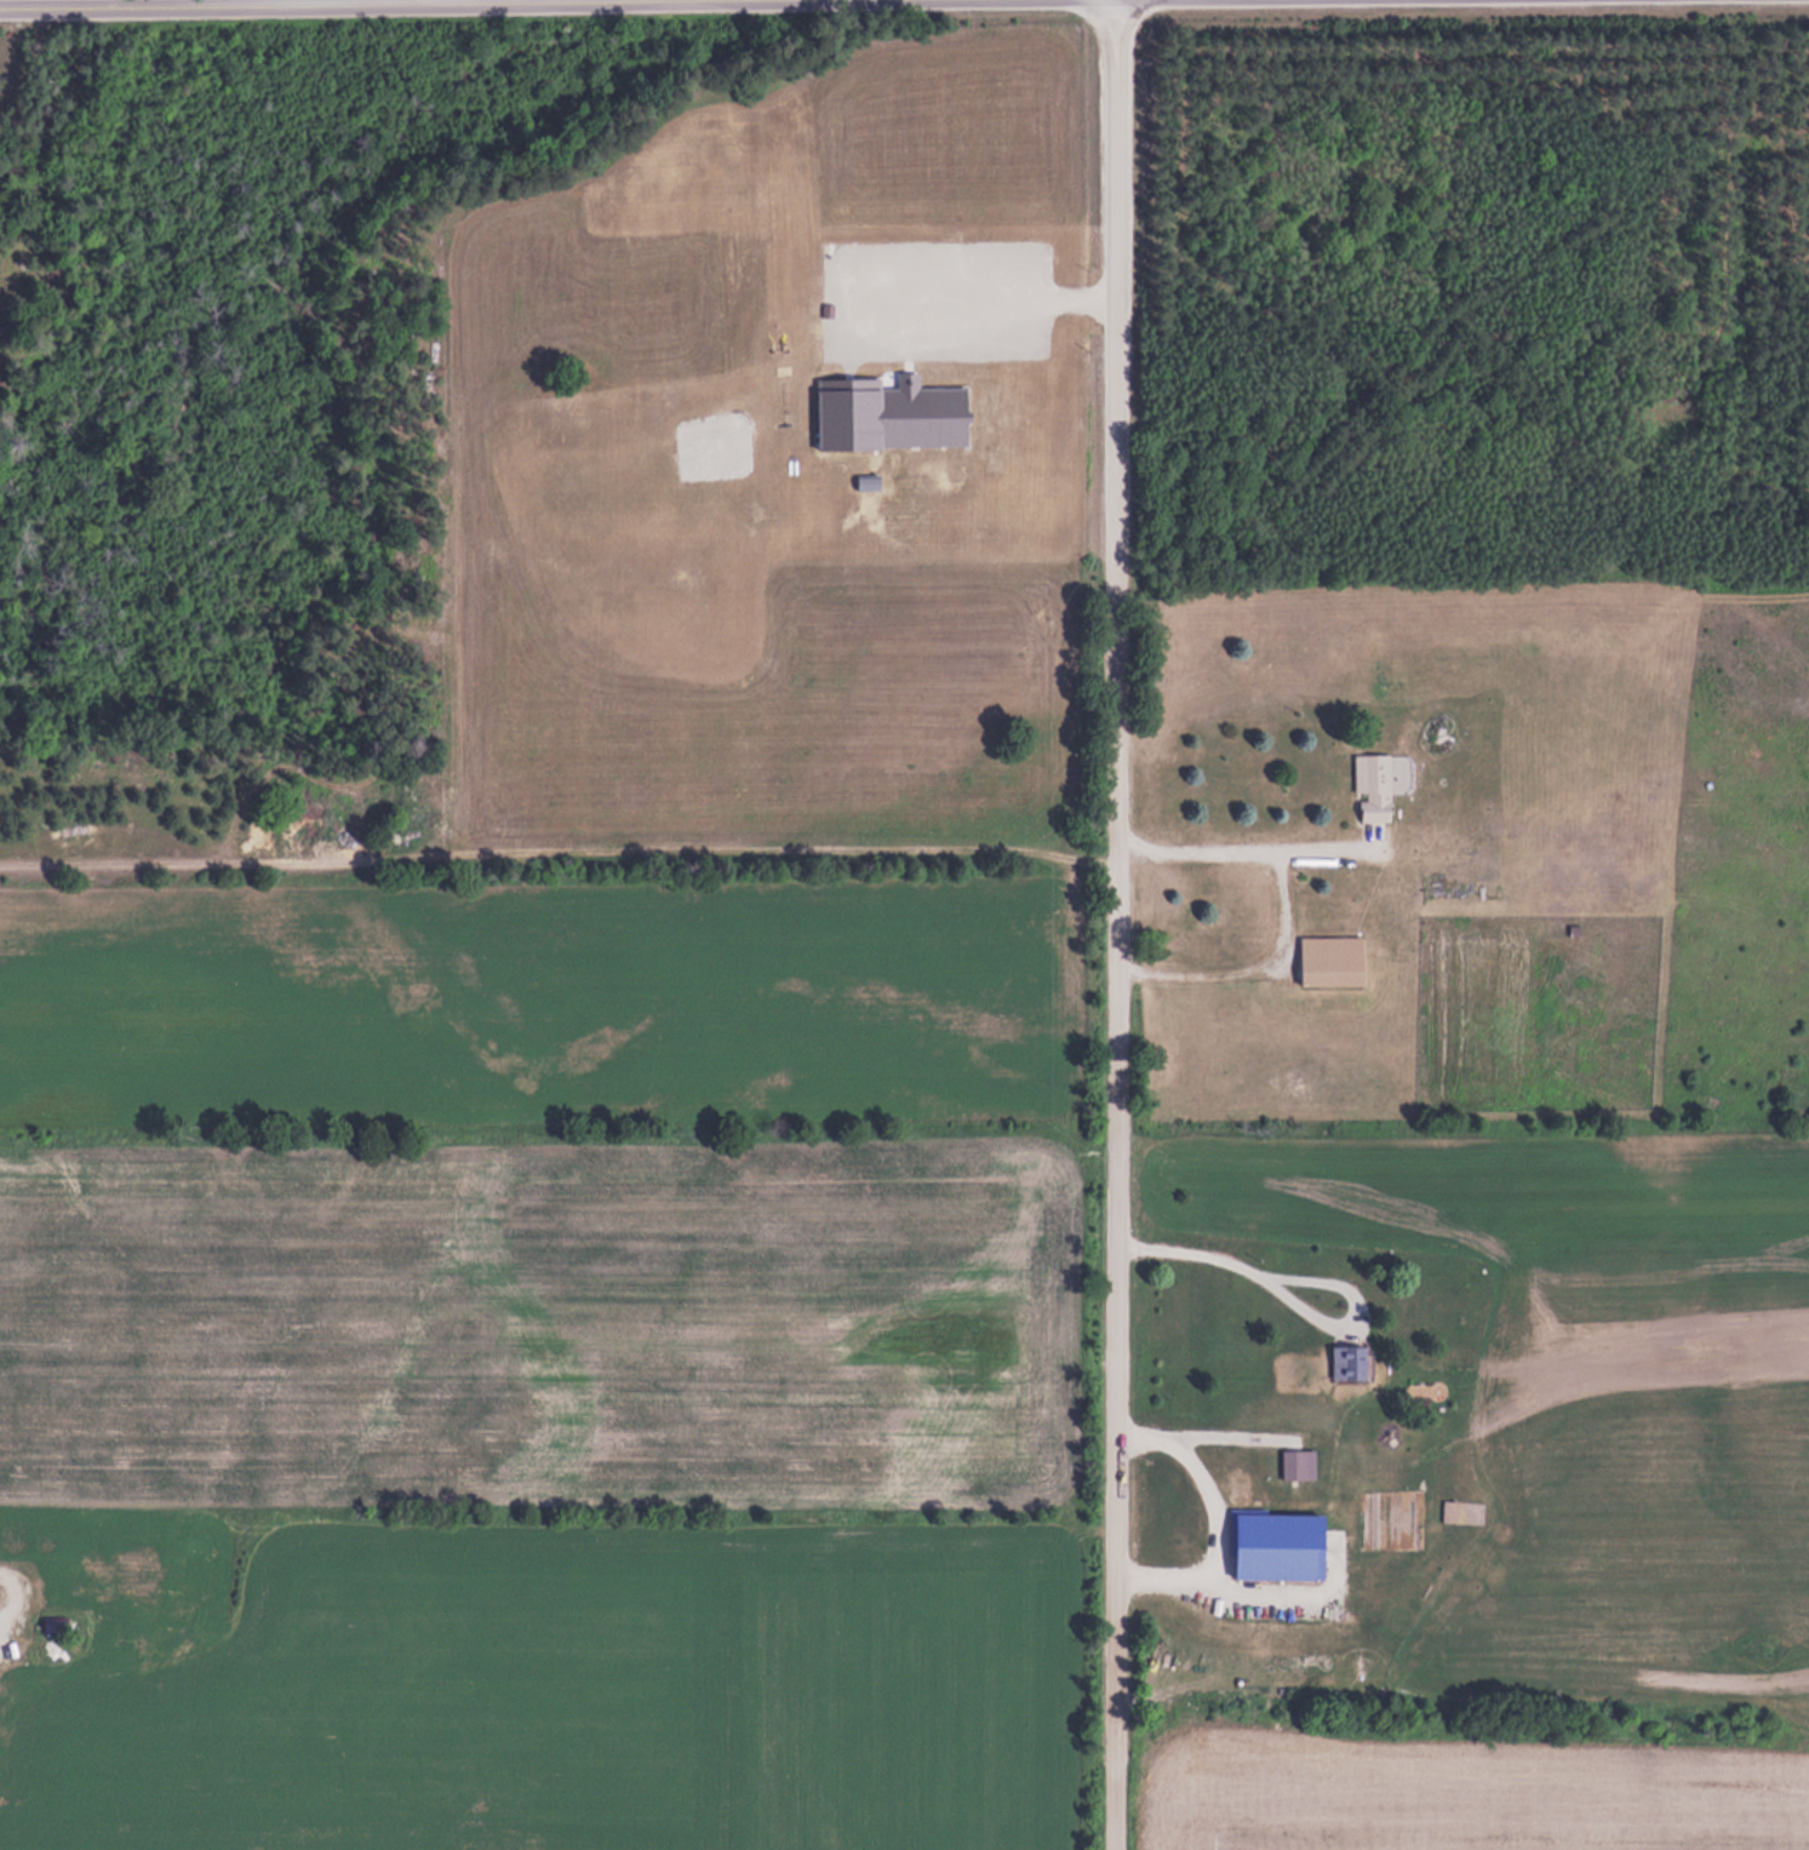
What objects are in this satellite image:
road: (271, 1)
building: (1372, 786)
road: (1110, 924)
building: (1330, 960)
building: (1349, 1361)
building: (1293, 1464)
building: (96, 1574)

